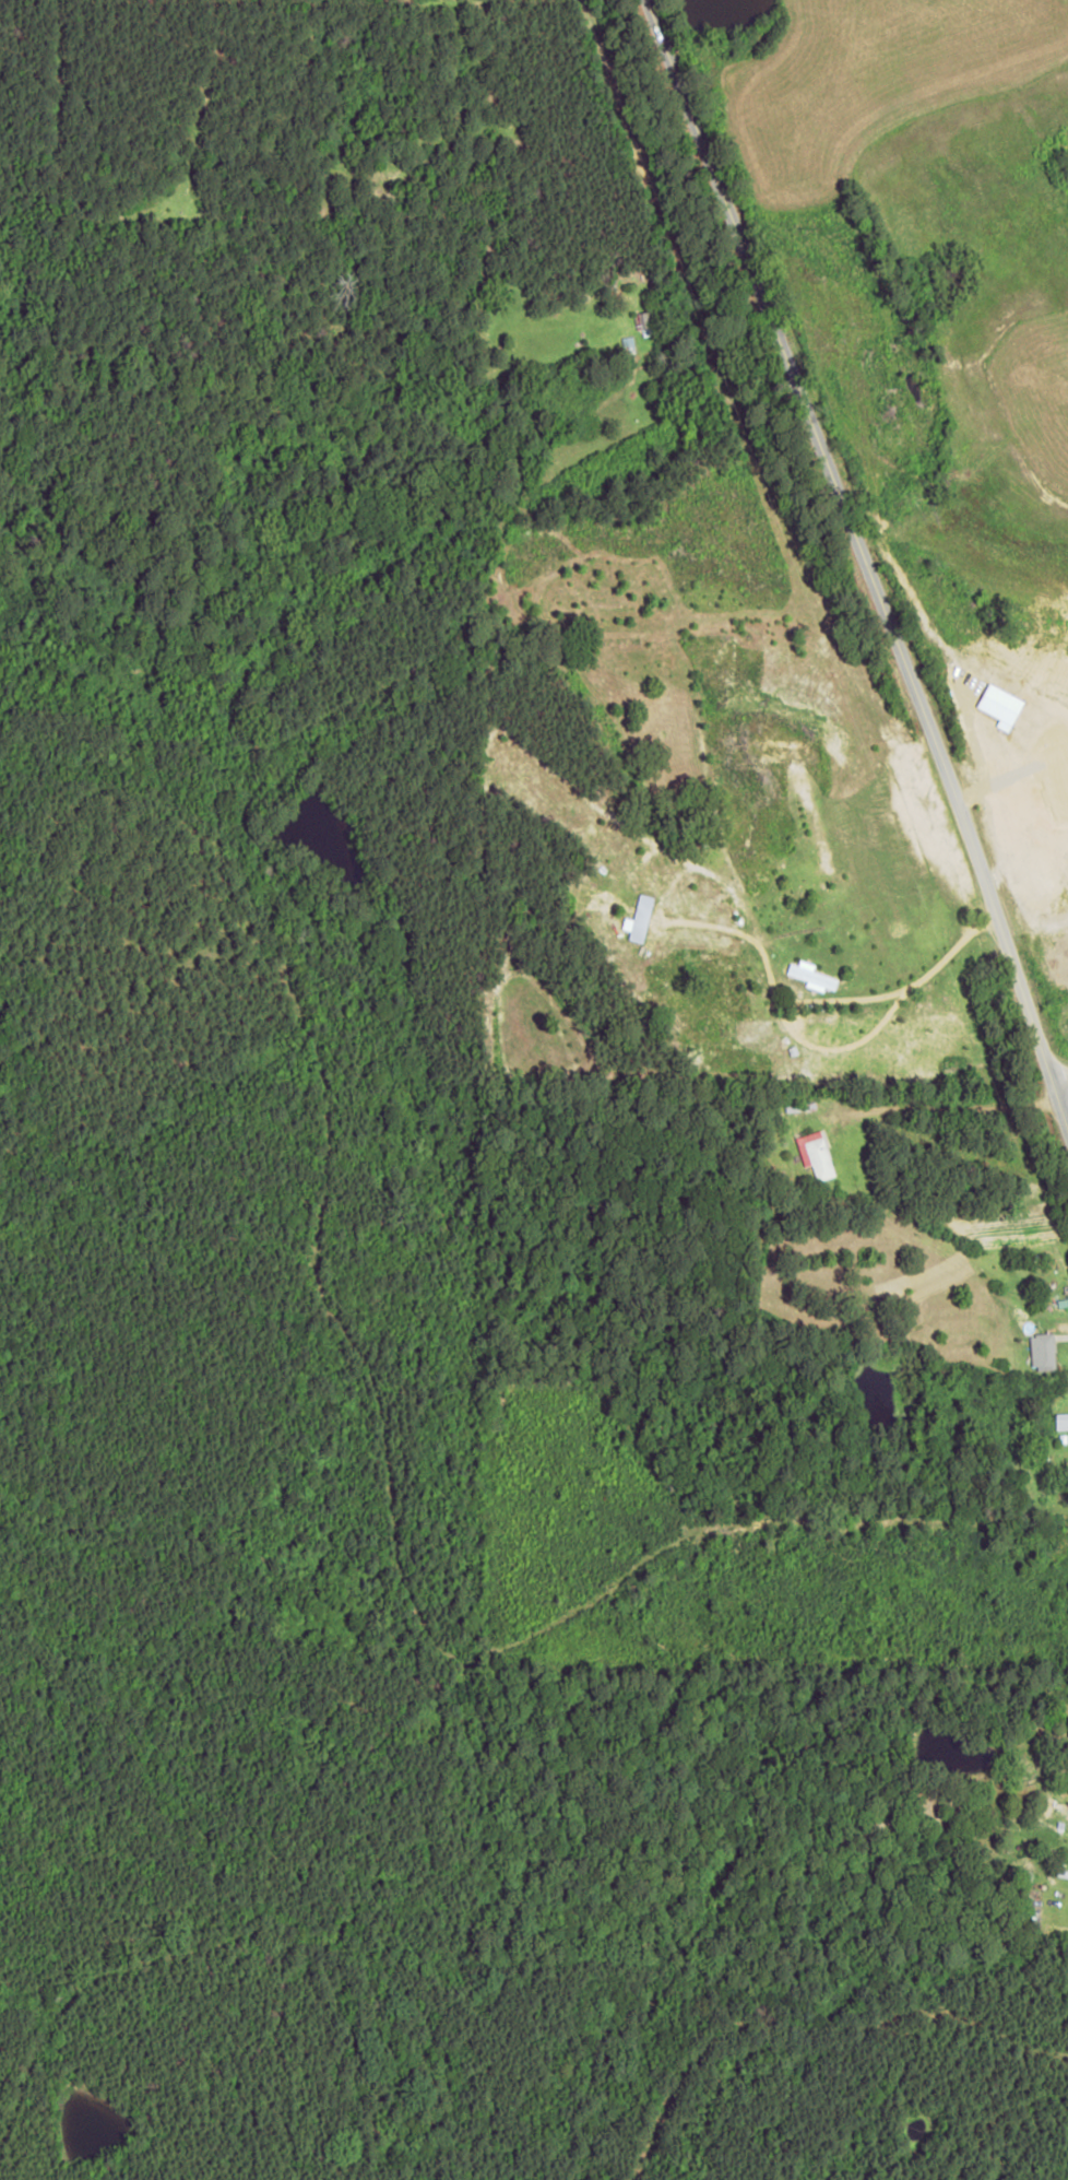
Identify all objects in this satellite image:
building: (643, 322)
road: (852, 549)
building: (640, 918)
building: (811, 976)
building: (815, 1153)
road: (931, 1325)
building: (1042, 1351)
building: (1061, 1419)

